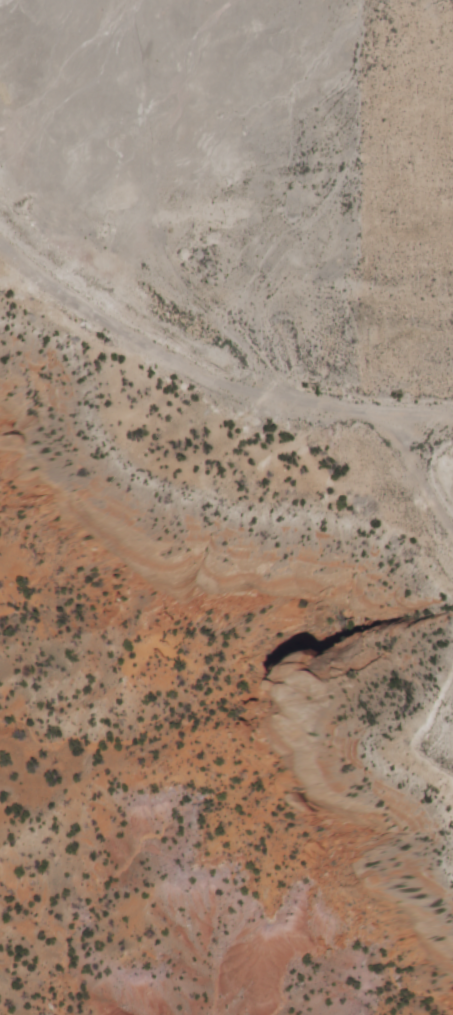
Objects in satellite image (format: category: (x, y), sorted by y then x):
road: (253, 268)

